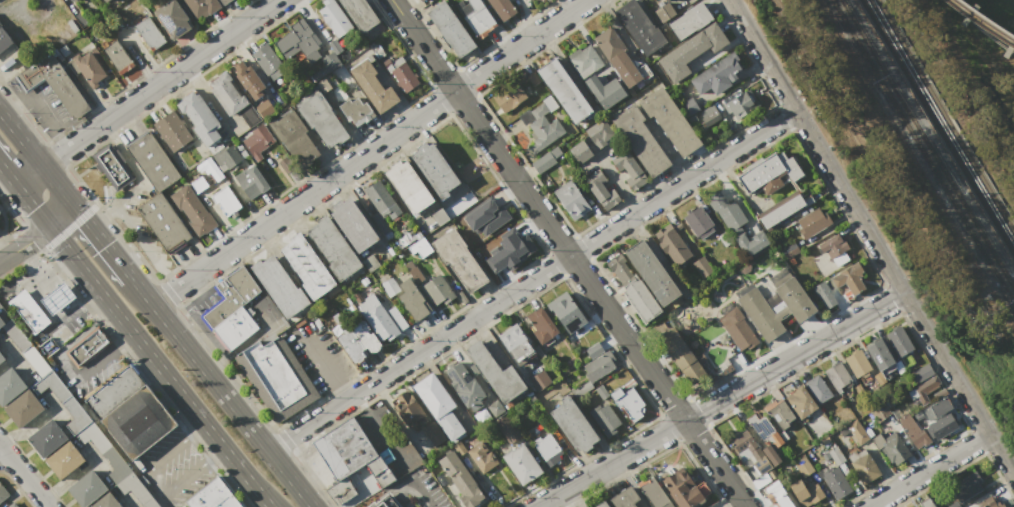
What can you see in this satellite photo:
building: (421, 0)
building: (665, 0)
building: (72, 1)
building: (105, 1)
building: (224, 2)
building: (201, 7)
building: (502, 8)
building: (664, 12)
building: (360, 13)
building: (476, 17)
building: (334, 18)
building: (80, 19)
building: (172, 19)
building: (690, 20)
railway: (981, 22)
railway: (981, 24)
building: (72, 25)
building: (640, 27)
building: (451, 29)
building: (150, 33)
building: (4, 40)
building: (609, 42)
building: (299, 43)
building: (64, 50)
building: (377, 50)
building: (691, 51)
building: (118, 57)
building: (585, 60)
building: (267, 61)
building: (387, 63)
building: (325, 67)
building: (87, 68)
building: (625, 68)
building: (716, 75)
building: (405, 77)
building: (533, 77)
building: (249, 80)
building: (55, 84)
building: (323, 86)
building: (372, 86)
road: (147, 91)
building: (564, 91)
building: (605, 91)
building: (509, 96)
building: (233, 99)
building: (741, 104)
road: (40, 106)
building: (265, 107)
building: (689, 107)
building: (354, 109)
building: (709, 111)
building: (200, 117)
railway: (945, 117)
building: (322, 119)
building: (710, 120)
building: (671, 121)
building: (544, 126)
railway: (938, 126)
building: (173, 131)
building: (599, 133)
building: (294, 138)
building: (640, 140)
building: (258, 141)
railway: (927, 144)
building: (279, 152)
road: (369, 152)
building: (581, 152)
building: (243, 153)
railway: (922, 153)
road: (37, 158)
building: (228, 159)
building: (546, 160)
building: (153, 162)
building: (287, 165)
building: (113, 167)
building: (209, 169)
building: (629, 169)
building: (433, 170)
building: (770, 173)
road: (7, 174)
road: (139, 181)
building: (251, 182)
building: (199, 184)
building: (408, 186)
building: (600, 190)
building: (382, 199)
building: (226, 200)
building: (570, 200)
road: (32, 206)
building: (193, 209)
building: (781, 210)
building: (727, 211)
building: (440, 216)
building: (485, 217)
building: (164, 222)
building: (812, 222)
building: (379, 223)
building: (699, 223)
building: (353, 225)
building: (402, 232)
road: (38, 235)
building: (388, 235)
road: (872, 235)
building: (405, 239)
road: (103, 242)
building: (752, 242)
building: (833, 244)
road: (146, 246)
building: (671, 246)
building: (334, 248)
building: (420, 248)
building: (509, 250)
building: (789, 251)
road: (569, 253)
building: (459, 261)
building: (371, 263)
building: (307, 266)
building: (703, 267)
building: (413, 271)
building: (651, 272)
building: (849, 278)
road: (533, 280)
building: (388, 284)
building: (279, 286)
building: (439, 289)
building: (633, 289)
road: (142, 291)
building: (823, 294)
building: (793, 296)
building: (57, 298)
building: (413, 299)
building: (232, 309)
road: (74, 310)
building: (29, 311)
building: (567, 313)
building: (760, 313)
building: (2, 316)
building: (377, 319)
building: (541, 323)
building: (738, 330)
building: (16, 335)
building: (366, 337)
building: (515, 342)
building: (899, 342)
building: (89, 346)
building: (351, 346)
building: (598, 349)
building: (880, 355)
building: (1, 358)
building: (684, 359)
building: (37, 361)
building: (857, 363)
road: (66, 367)
road: (159, 367)
road: (327, 369)
building: (596, 371)
building: (496, 373)
building: (921, 373)
building: (839, 374)
building: (277, 378)
building: (539, 380)
building: (464, 385)
building: (10, 386)
building: (51, 386)
building: (818, 389)
building: (923, 390)
building: (114, 392)
building: (601, 392)
road: (724, 401)
building: (800, 401)
building: (628, 403)
road: (232, 405)
building: (439, 406)
building: (941, 406)
building: (495, 408)
building: (23, 409)
building: (409, 409)
building: (75, 414)
building: (482, 415)
building: (778, 416)
building: (604, 419)
building: (139, 422)
building: (573, 425)
building: (942, 426)
building: (507, 427)
road: (380, 429)
building: (763, 429)
building: (856, 431)
building: (913, 431)
building: (433, 433)
building: (46, 439)
building: (344, 448)
building: (458, 448)
building: (890, 448)
building: (550, 449)
building: (104, 451)
building: (750, 452)
road: (2, 453)
building: (771, 454)
building: (482, 456)
building: (64, 460)
building: (523, 464)
building: (863, 466)
building: (803, 467)
road: (930, 469)
building: (379, 471)
building: (772, 474)
road: (24, 476)
building: (462, 480)
building: (761, 480)
building: (834, 482)
road: (157, 483)
building: (966, 487)
building: (87, 489)
building: (686, 489)
building: (136, 490)
building: (341, 491)
road: (382, 492)
building: (806, 492)
building: (3, 493)
building: (777, 493)
building: (655, 494)
building: (213, 496)
building: (626, 497)
road: (168, 501)
building: (105, 502)
building: (385, 502)
building: (926, 502)
building: (988, 503)
building: (12, 505)
building: (603, 505)

